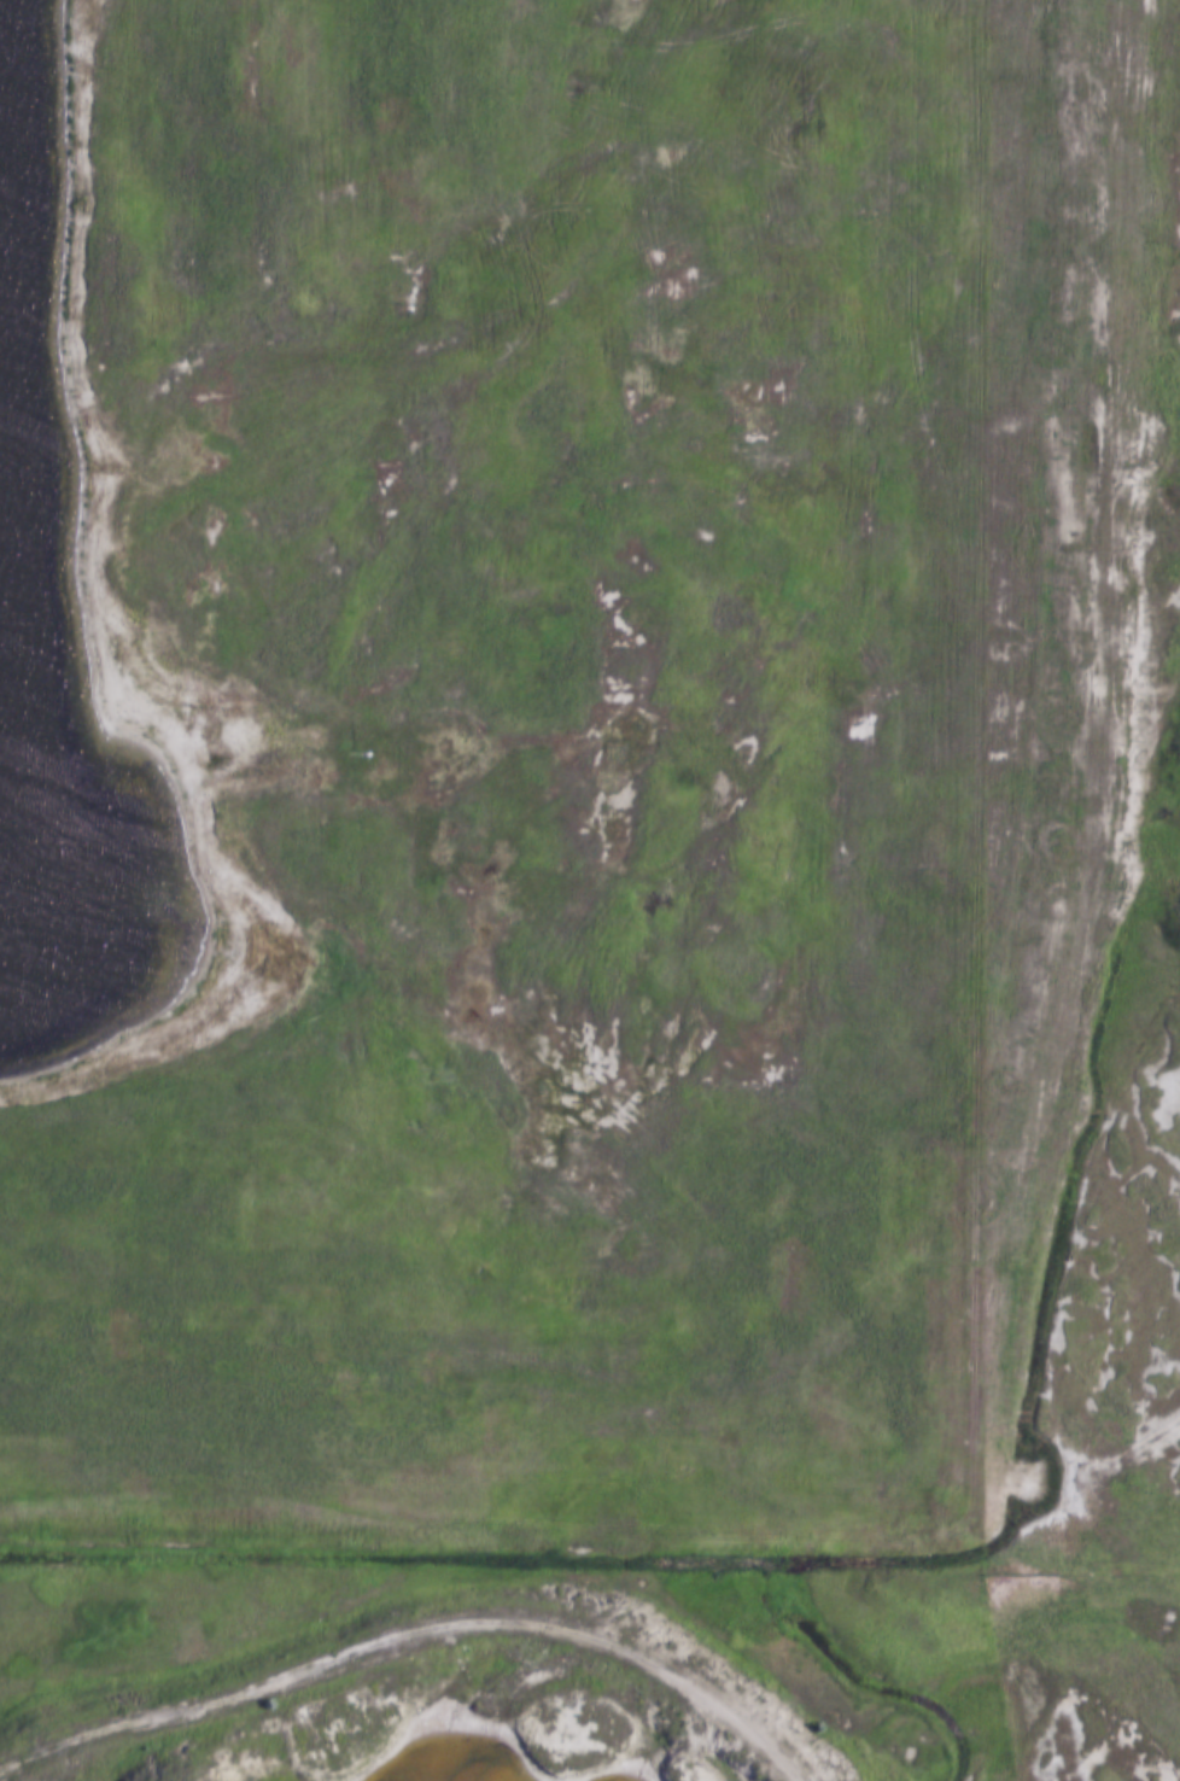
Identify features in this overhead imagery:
road: (415, 1639)
quarry: (444, 1705)

